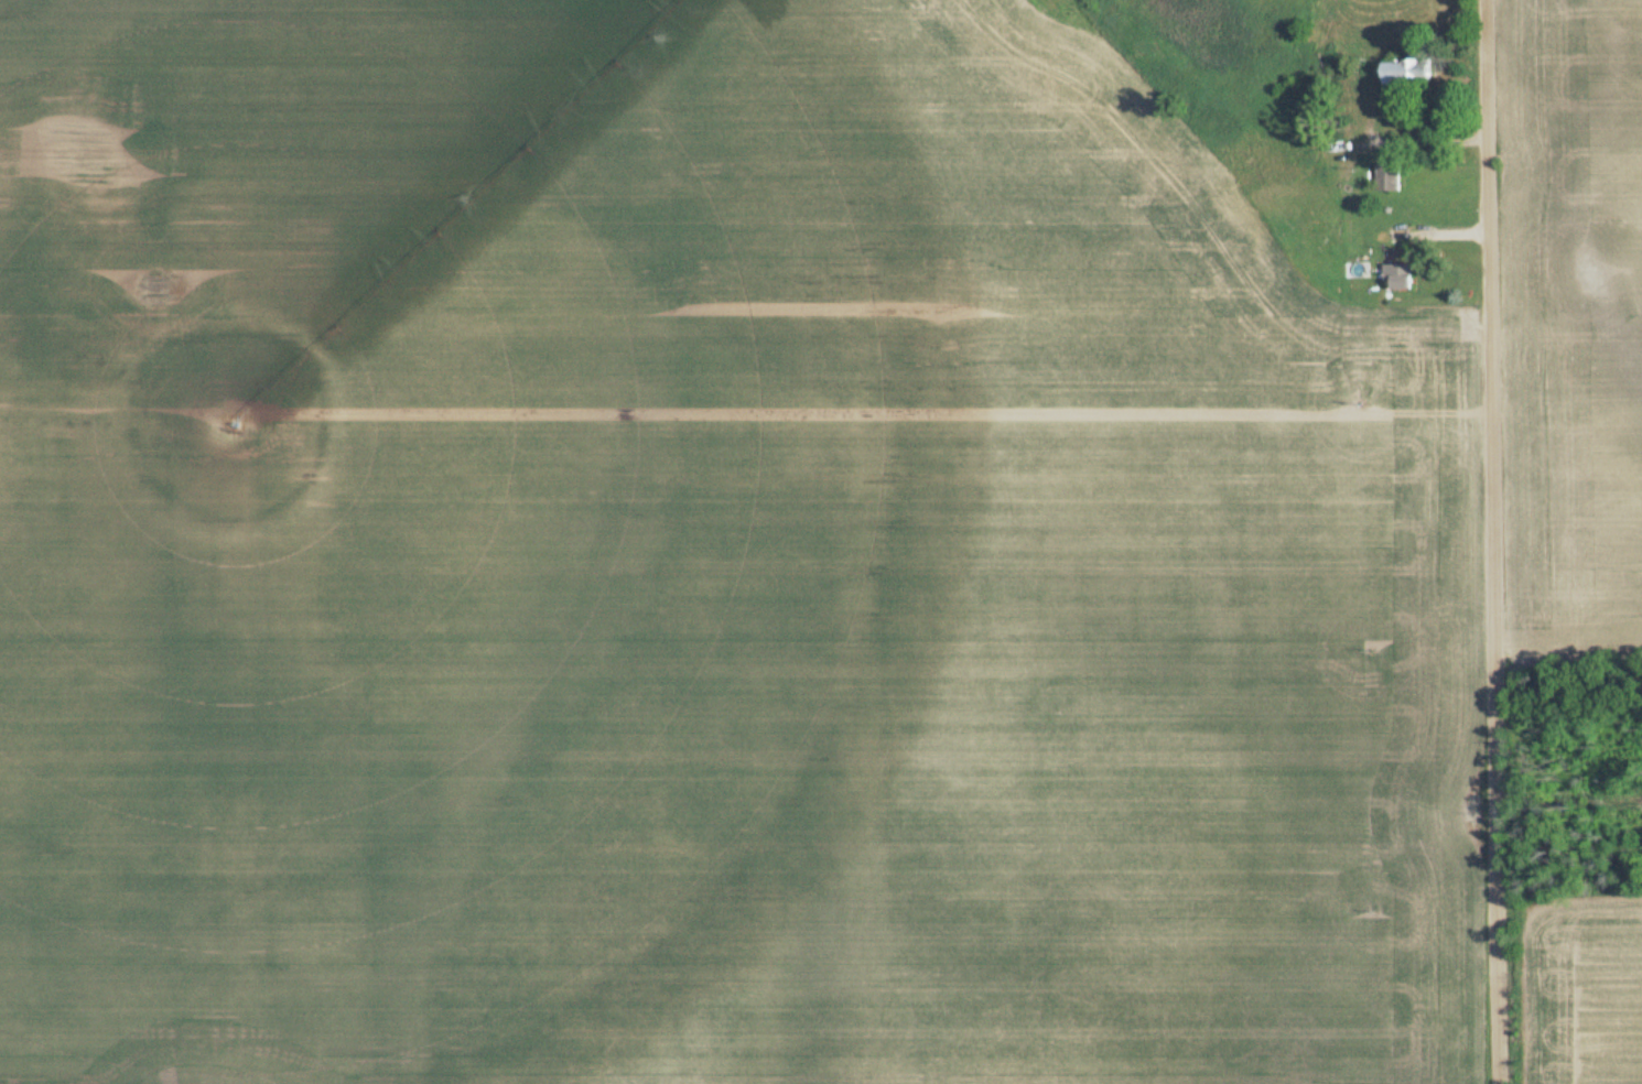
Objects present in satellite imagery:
road: (312, 41)
building: (1406, 73)
road: (1409, 141)
building: (1389, 180)
building: (1398, 279)
road: (1492, 542)

